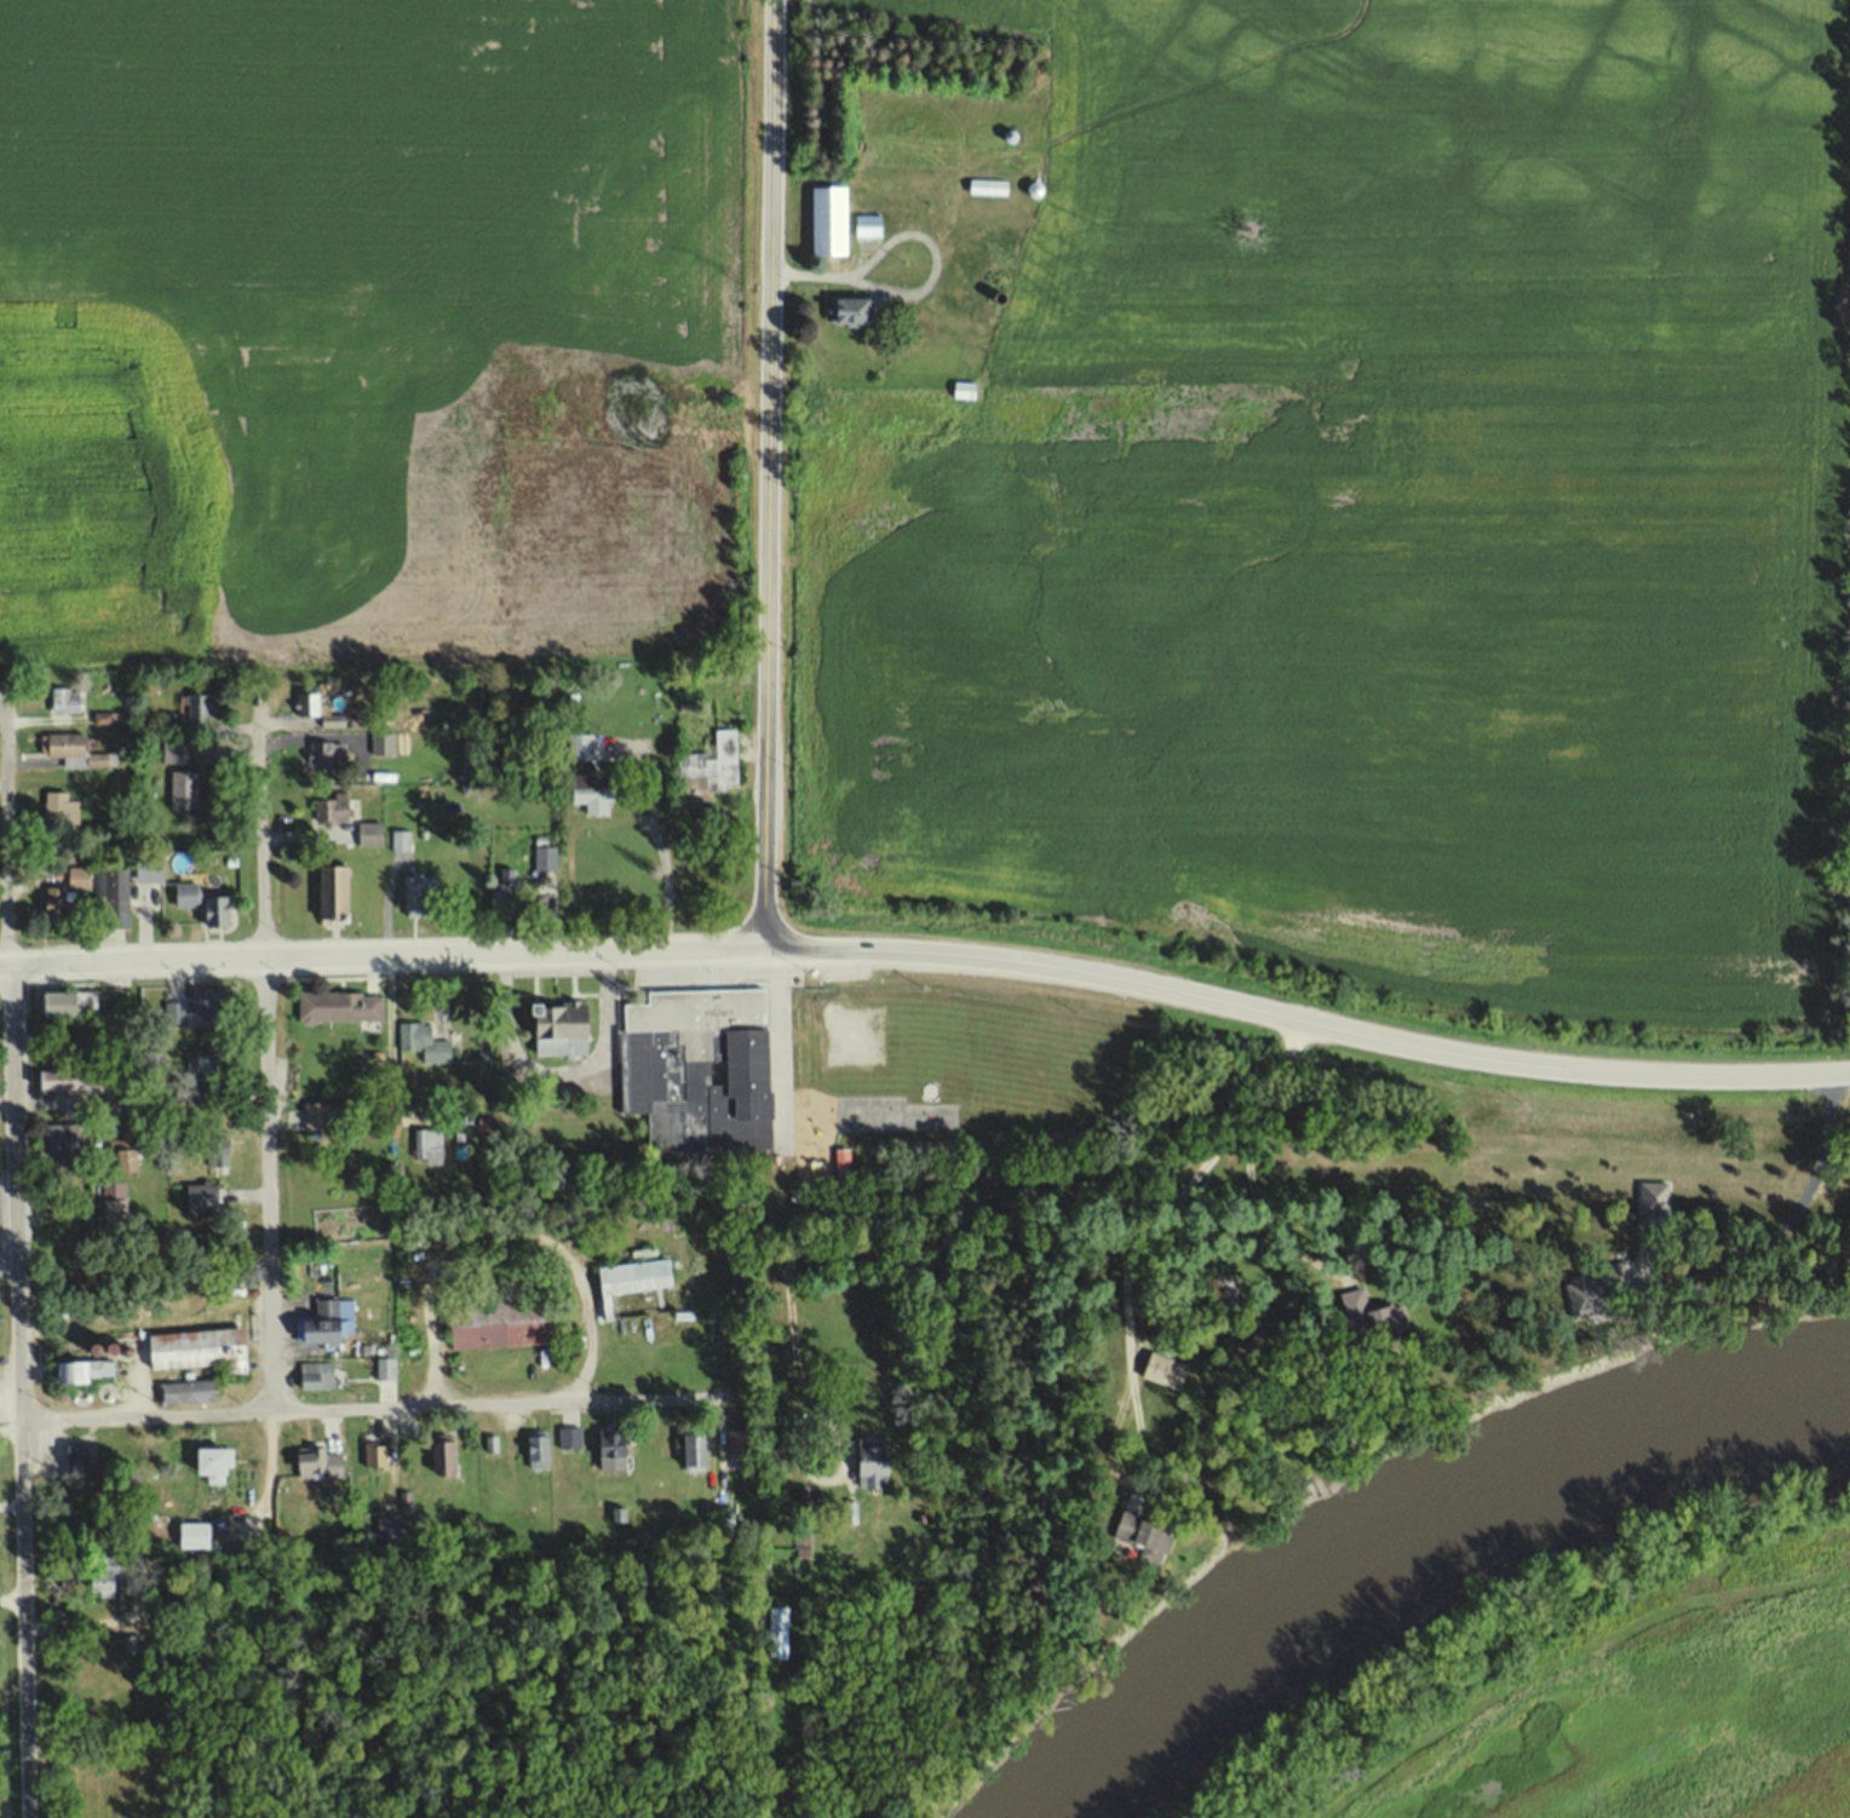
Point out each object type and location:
building: (834, 219)
building: (869, 224)
building: (982, 277)
building: (854, 311)
building: (956, 390)
road: (766, 474)
building: (65, 698)
building: (201, 706)
building: (321, 709)
building: (103, 715)
building: (381, 742)
building: (68, 743)
building: (177, 750)
building: (581, 750)
building: (329, 753)
building: (716, 764)
building: (184, 788)
building: (592, 801)
building: (334, 807)
road: (633, 809)
building: (63, 813)
road: (7, 824)
building: (372, 832)
building: (151, 862)
building: (418, 891)
building: (337, 893)
building: (506, 893)
building: (209, 903)
building: (114, 904)
road: (384, 953)
road: (4, 965)
building: (70, 1001)
building: (214, 1002)
building: (343, 1005)
road: (1304, 1024)
building: (561, 1036)
building: (426, 1039)
road: (262, 1046)
road: (782, 1046)
building: (203, 1060)
building: (154, 1062)
building: (695, 1069)
building: (79, 1078)
road: (131, 1095)
building: (317, 1114)
building: (427, 1144)
building: (63, 1145)
building: (219, 1147)
building: (130, 1151)
road: (931, 1178)
building: (1655, 1197)
building: (205, 1198)
road: (1257, 1209)
building: (115, 1214)
road: (1716, 1271)
building: (634, 1283)
road: (787, 1283)
road: (1126, 1284)
building: (1596, 1294)
building: (1371, 1321)
building: (326, 1323)
building: (500, 1325)
building: (201, 1350)
building: (386, 1370)
building: (81, 1375)
building: (1166, 1375)
building: (317, 1376)
road: (18, 1391)
building: (186, 1393)
road: (521, 1404)
road: (145, 1417)
road: (10, 1425)
building: (568, 1439)
building: (785, 1443)
building: (745, 1445)
building: (492, 1446)
building: (694, 1450)
building: (340, 1452)
building: (538, 1452)
building: (613, 1457)
building: (446, 1459)
building: (86, 1460)
building: (380, 1460)
building: (216, 1463)
building: (318, 1466)
building: (871, 1466)
road: (268, 1484)
building: (619, 1512)
building: (712, 1512)
building: (850, 1513)
building: (390, 1531)
building: (195, 1537)
building: (1143, 1538)
river: (1429, 1566)
building: (104, 1570)
building: (906, 1601)
road: (11, 1603)
road: (92, 1627)
building: (776, 1633)
building: (128, 1645)
building: (0, 1669)

